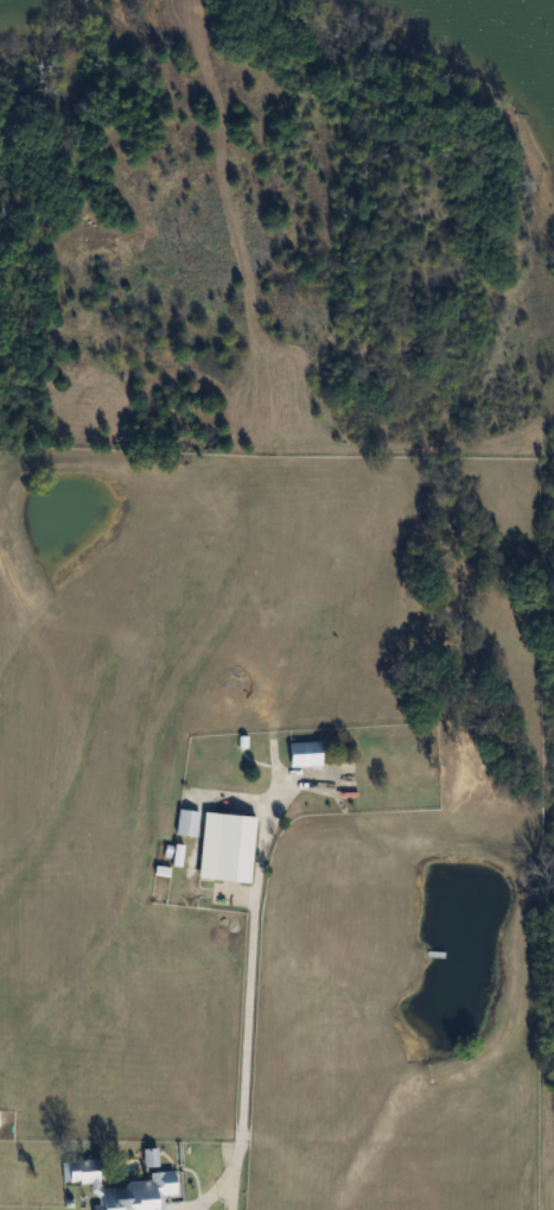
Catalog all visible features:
building: (304, 755)
building: (397, 767)
building: (186, 823)
building: (225, 848)
road: (248, 967)
building: (121, 1189)

